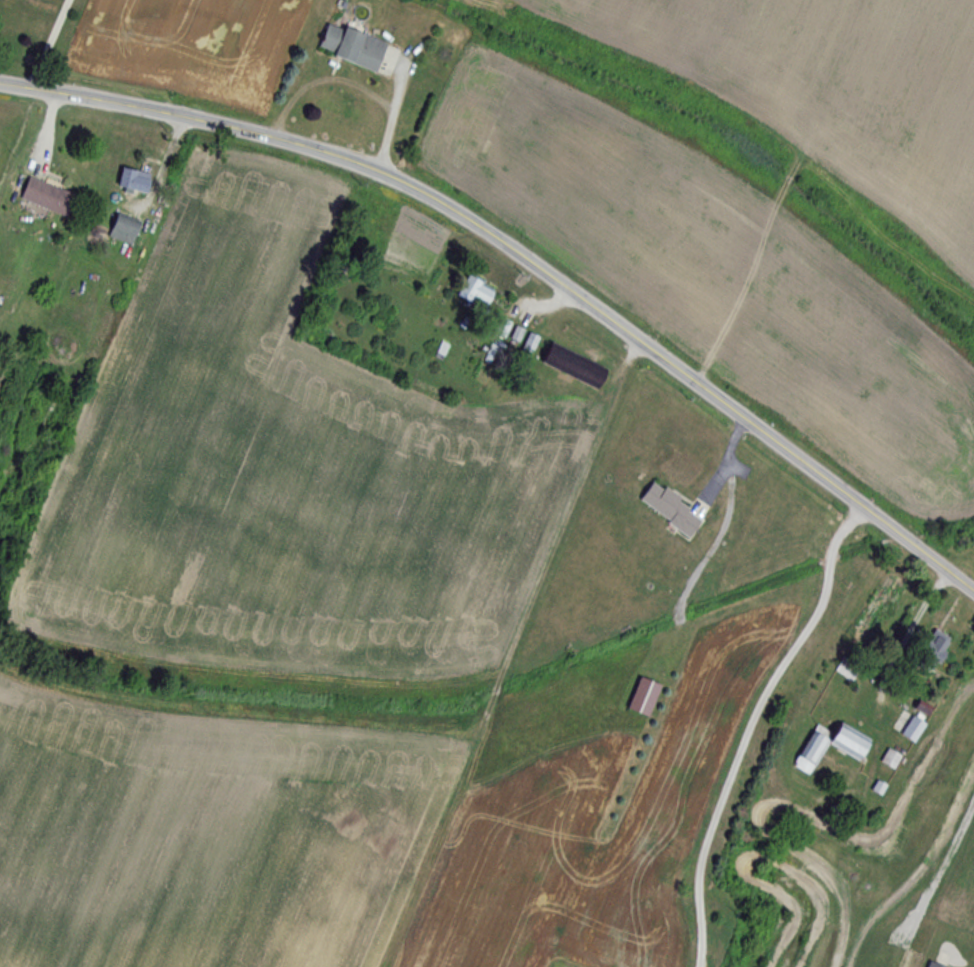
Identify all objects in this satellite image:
road: (50, 43)
building: (353, 46)
crop: (838, 88)
building: (134, 181)
building: (49, 197)
building: (124, 230)
road: (523, 253)
crop: (716, 282)
building: (477, 291)
building: (503, 328)
road: (721, 466)
crop: (299, 472)
building: (672, 509)
building: (934, 651)
building: (847, 669)
building: (644, 697)
road: (751, 725)
building: (913, 729)
building: (853, 752)
building: (891, 758)
crop: (202, 841)
crop: (570, 864)
building: (935, 964)

